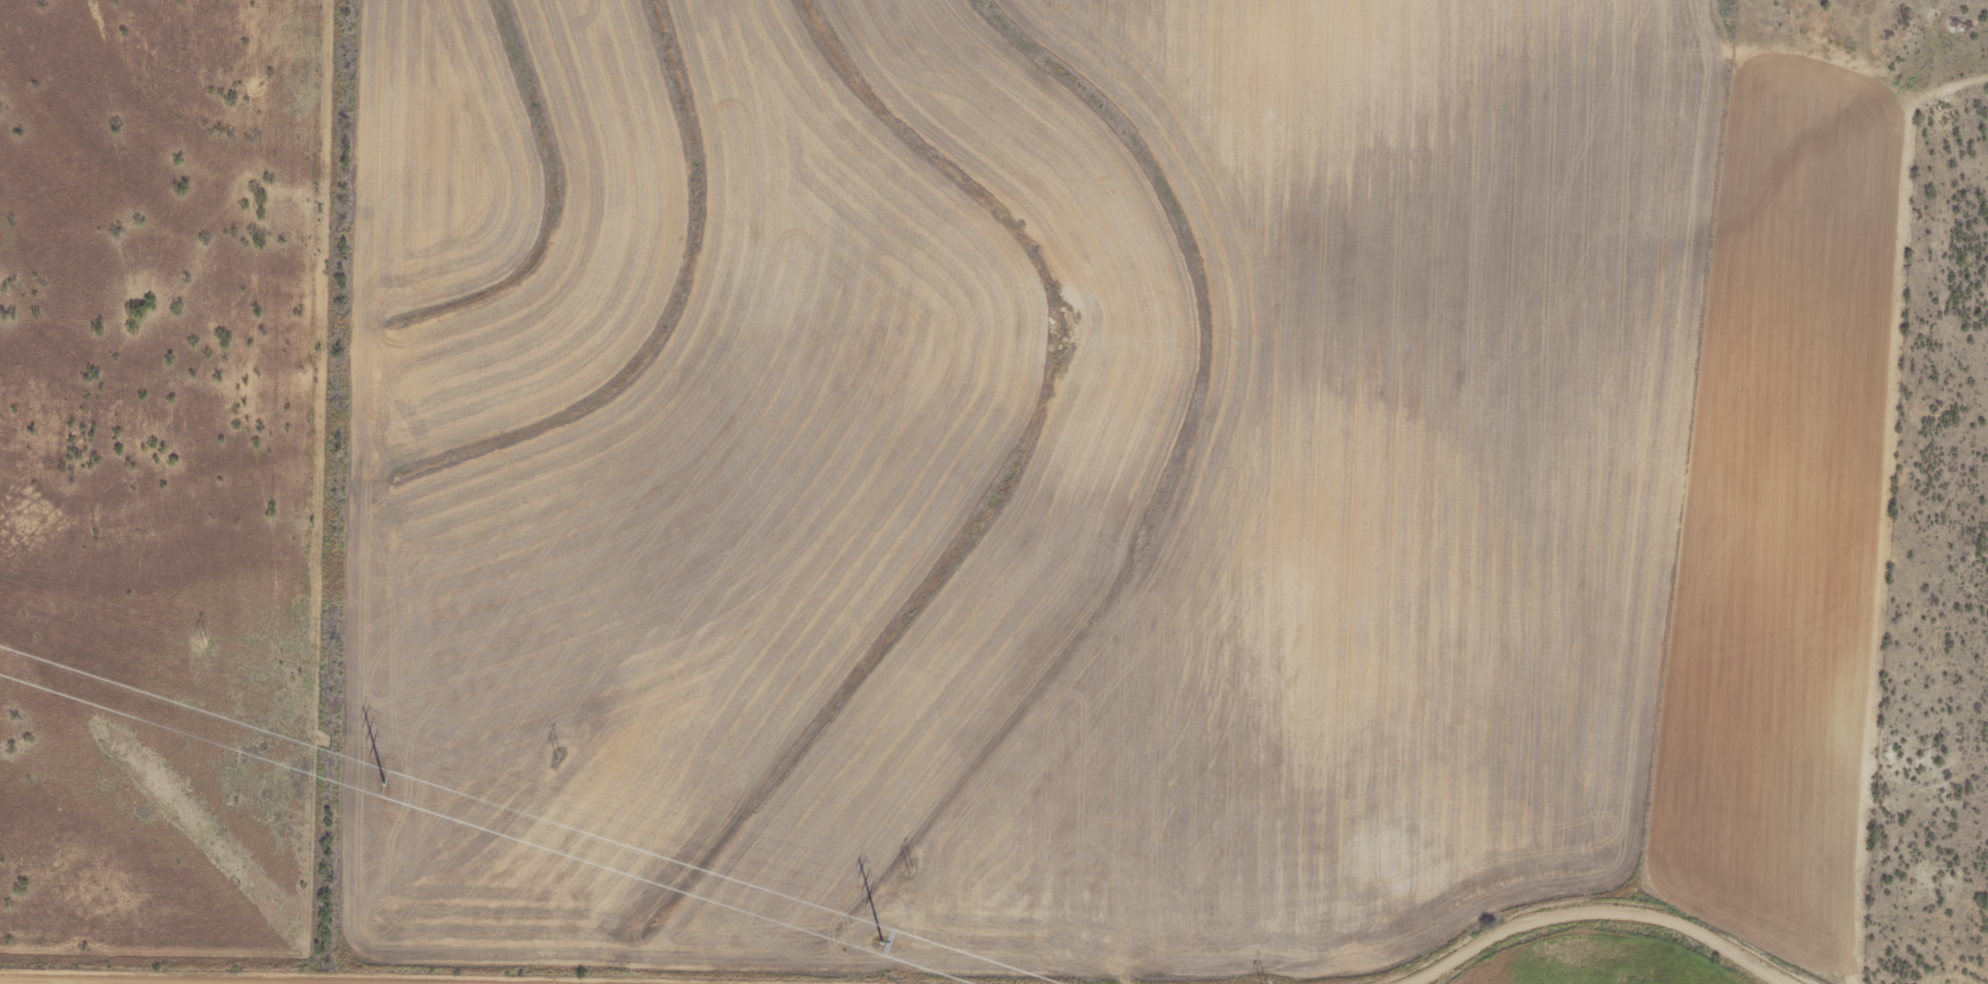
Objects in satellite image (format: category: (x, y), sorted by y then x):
power tower: (204, 643)
power tower: (556, 755)
power tower: (384, 781)
power tower: (909, 868)
road: (1598, 912)
power tower: (881, 940)
road: (134, 981)
power tower: (1263, 982)

